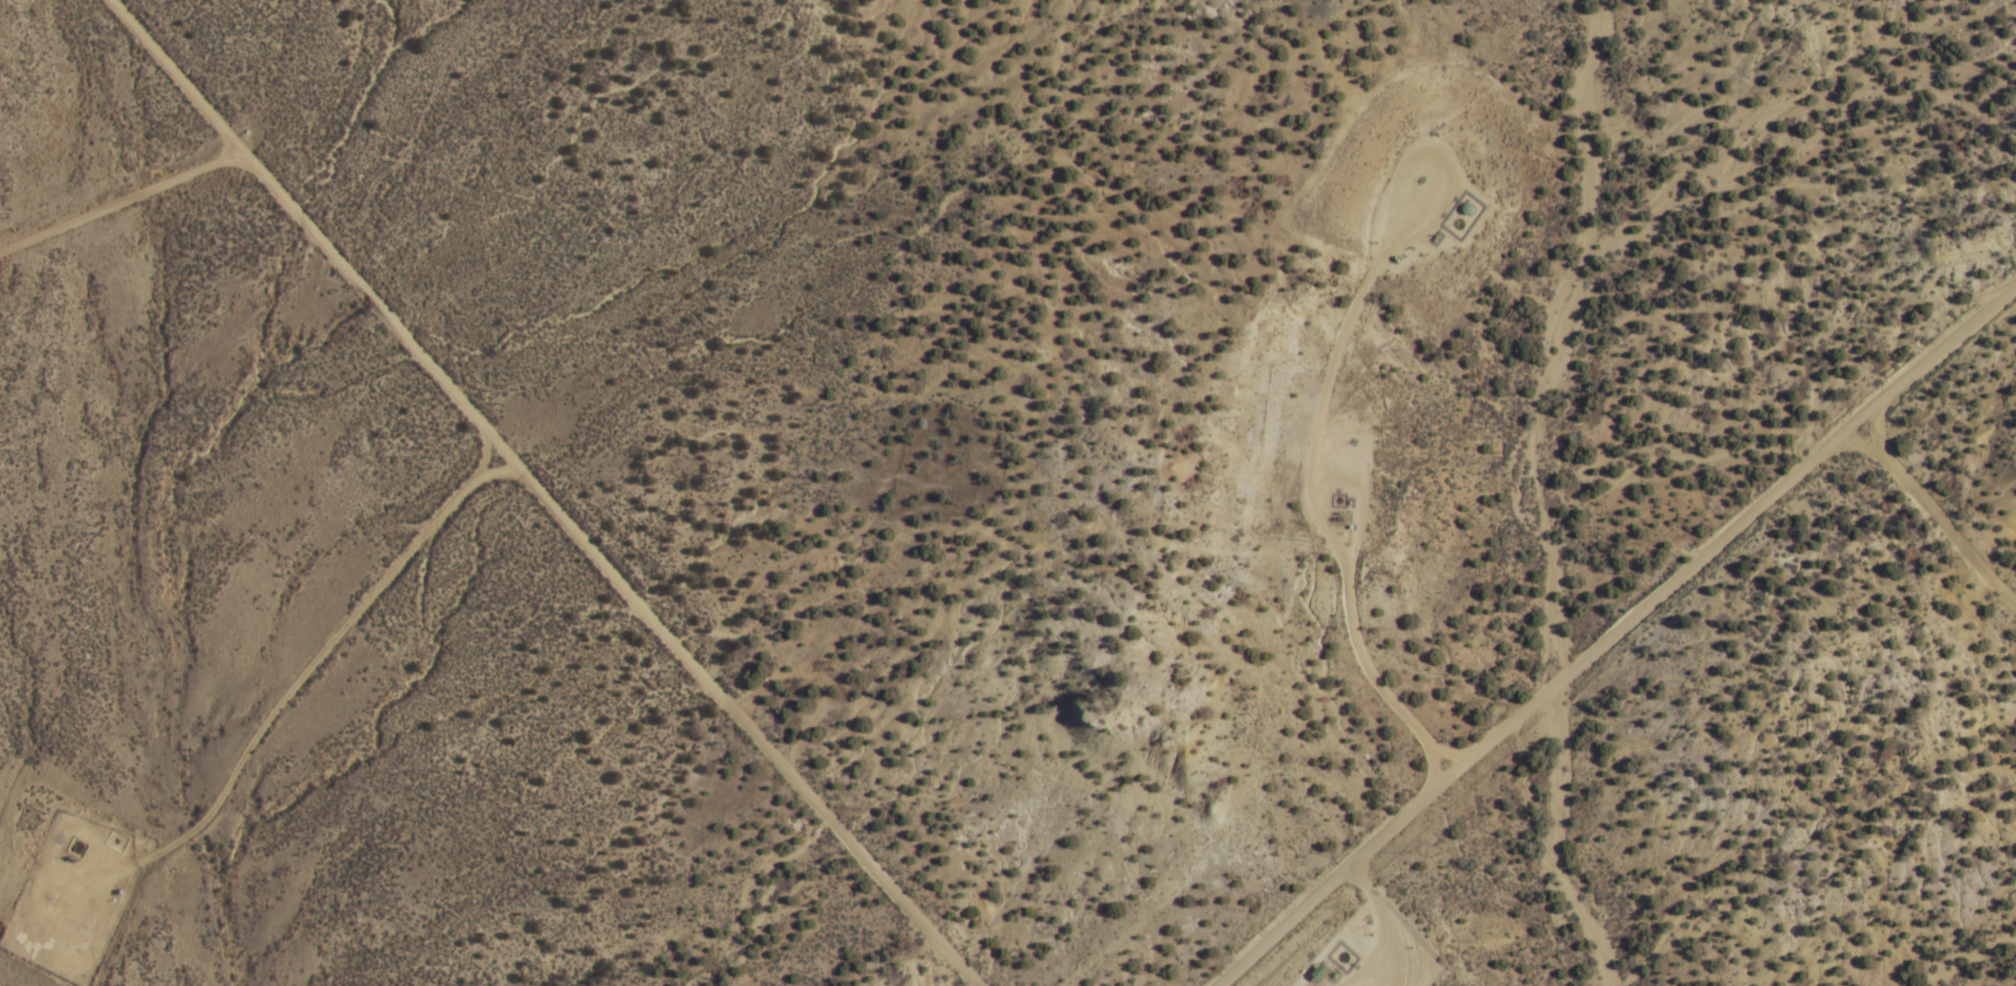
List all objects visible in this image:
road: (542, 493)
road: (1929, 516)
road: (1608, 627)
road: (1357, 885)
road: (1392, 945)
road: (1363, 951)
building: (1323, 973)

